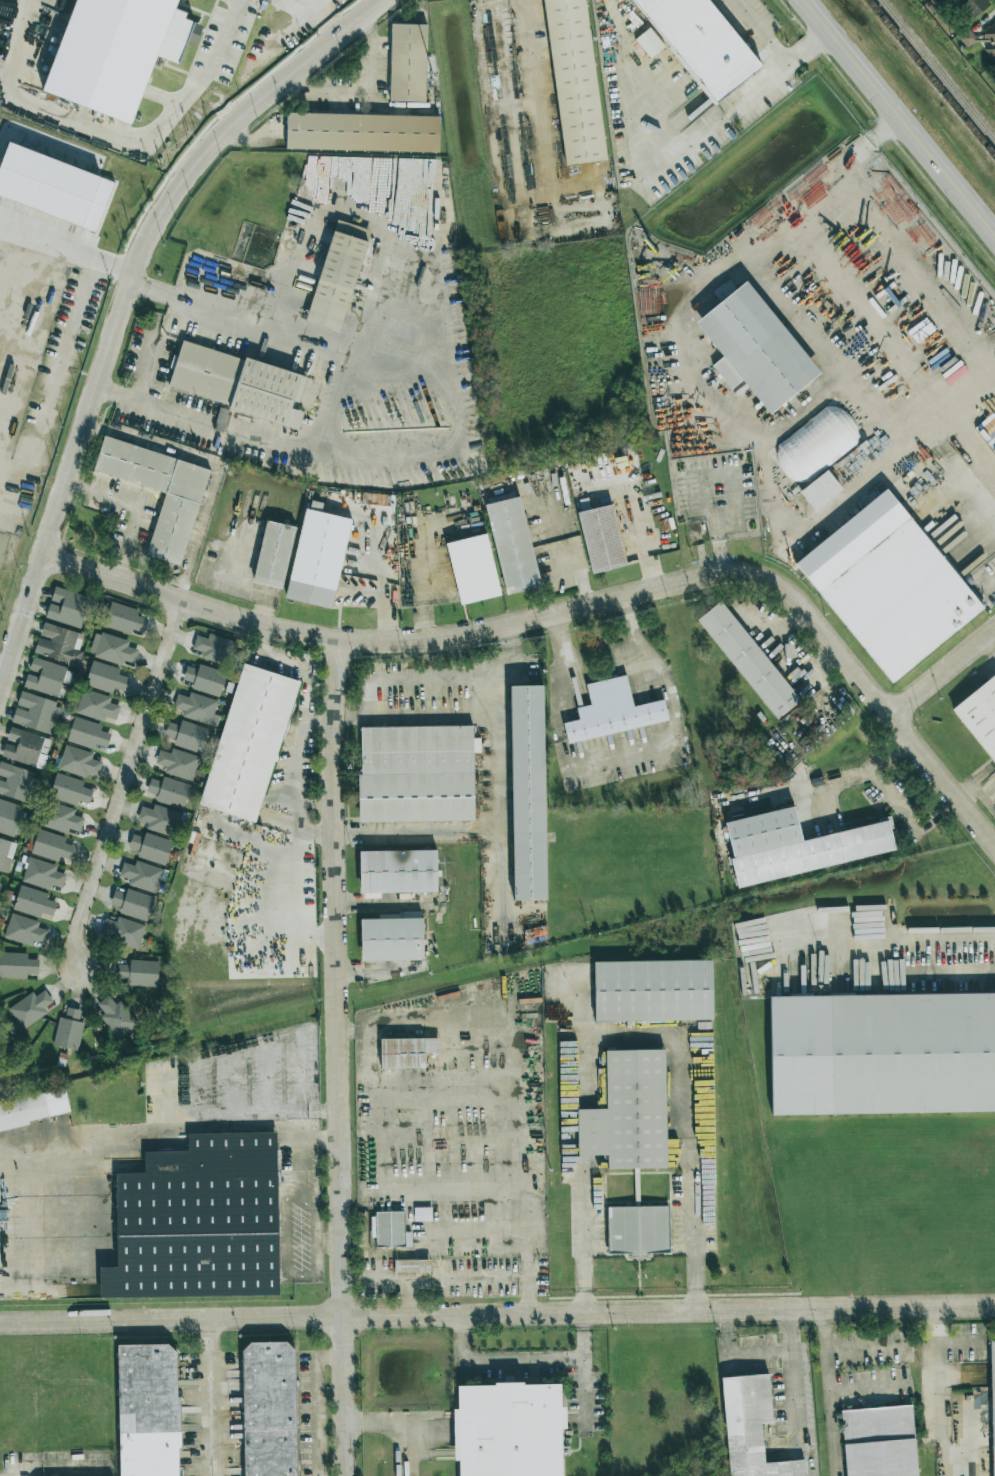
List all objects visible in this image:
road: (314, 1)
building: (971, 7)
building: (6, 14)
road: (326, 18)
road: (762, 33)
building: (990, 41)
building: (649, 42)
building: (701, 43)
road: (810, 49)
building: (116, 52)
building: (408, 62)
railway: (938, 70)
railway: (931, 77)
road: (534, 81)
building: (574, 81)
road: (359, 90)
road: (219, 101)
road: (899, 116)
building: (362, 132)
road: (112, 134)
road: (678, 143)
building: (53, 187)
road: (887, 242)
road: (69, 255)
road: (430, 267)
building: (337, 275)
road: (125, 302)
road: (25, 334)
building: (755, 348)
road: (399, 353)
road: (146, 372)
road: (994, 375)
road: (53, 380)
building: (239, 384)
road: (398, 395)
road: (338, 407)
building: (220, 419)
building: (815, 444)
road: (885, 445)
road: (214, 477)
building: (375, 499)
road: (137, 506)
building: (174, 523)
parking lot: (560, 535)
building: (601, 539)
road: (648, 540)
building: (512, 544)
road: (243, 552)
building: (273, 554)
building: (317, 557)
road: (427, 559)
building: (473, 568)
building: (889, 585)
road: (393, 590)
road: (593, 594)
road: (261, 596)
building: (67, 607)
building: (124, 619)
road: (495, 628)
building: (59, 644)
building: (112, 648)
building: (214, 648)
building: (747, 660)
road: (497, 670)
road: (944, 672)
building: (46, 677)
building: (105, 677)
building: (205, 679)
road: (417, 680)
building: (96, 706)
building: (197, 708)
building: (612, 710)
building: (36, 713)
building: (980, 715)
road: (472, 716)
road: (320, 722)
road: (304, 724)
building: (87, 733)
building: (187, 735)
building: (249, 742)
building: (26, 748)
road: (623, 755)
building: (78, 762)
building: (178, 763)
building: (416, 774)
road: (943, 777)
building: (14, 781)
road: (123, 786)
building: (69, 790)
building: (169, 791)
building: (527, 792)
building: (9, 817)
building: (60, 818)
building: (159, 819)
road: (416, 830)
building: (795, 844)
building: (49, 845)
building: (151, 847)
building: (6, 854)
road: (500, 866)
building: (397, 871)
building: (42, 874)
building: (143, 875)
building: (0, 877)
building: (33, 902)
building: (132, 903)
building: (24, 930)
building: (123, 931)
building: (391, 939)
road: (918, 939)
building: (17, 965)
road: (951, 968)
building: (138, 973)
building: (652, 990)
building: (30, 1008)
building: (116, 1016)
building: (68, 1030)
building: (406, 1052)
building: (883, 1053)
road: (338, 1057)
building: (33, 1108)
road: (687, 1110)
building: (629, 1113)
road: (134, 1133)
road: (301, 1162)
road: (579, 1190)
building: (422, 1214)
building: (198, 1221)
building: (389, 1229)
building: (638, 1230)
road: (327, 1243)
building: (412, 1266)
road: (296, 1274)
road: (497, 1315)
road: (867, 1347)
road: (759, 1354)
road: (522, 1358)
road: (869, 1387)
road: (795, 1388)
road: (830, 1391)
road: (210, 1397)
road: (315, 1403)
building: (992, 1405)
building: (269, 1409)
building: (148, 1410)
road: (392, 1423)
building: (750, 1428)
building: (508, 1430)
building: (879, 1442)
road: (64, 1466)

